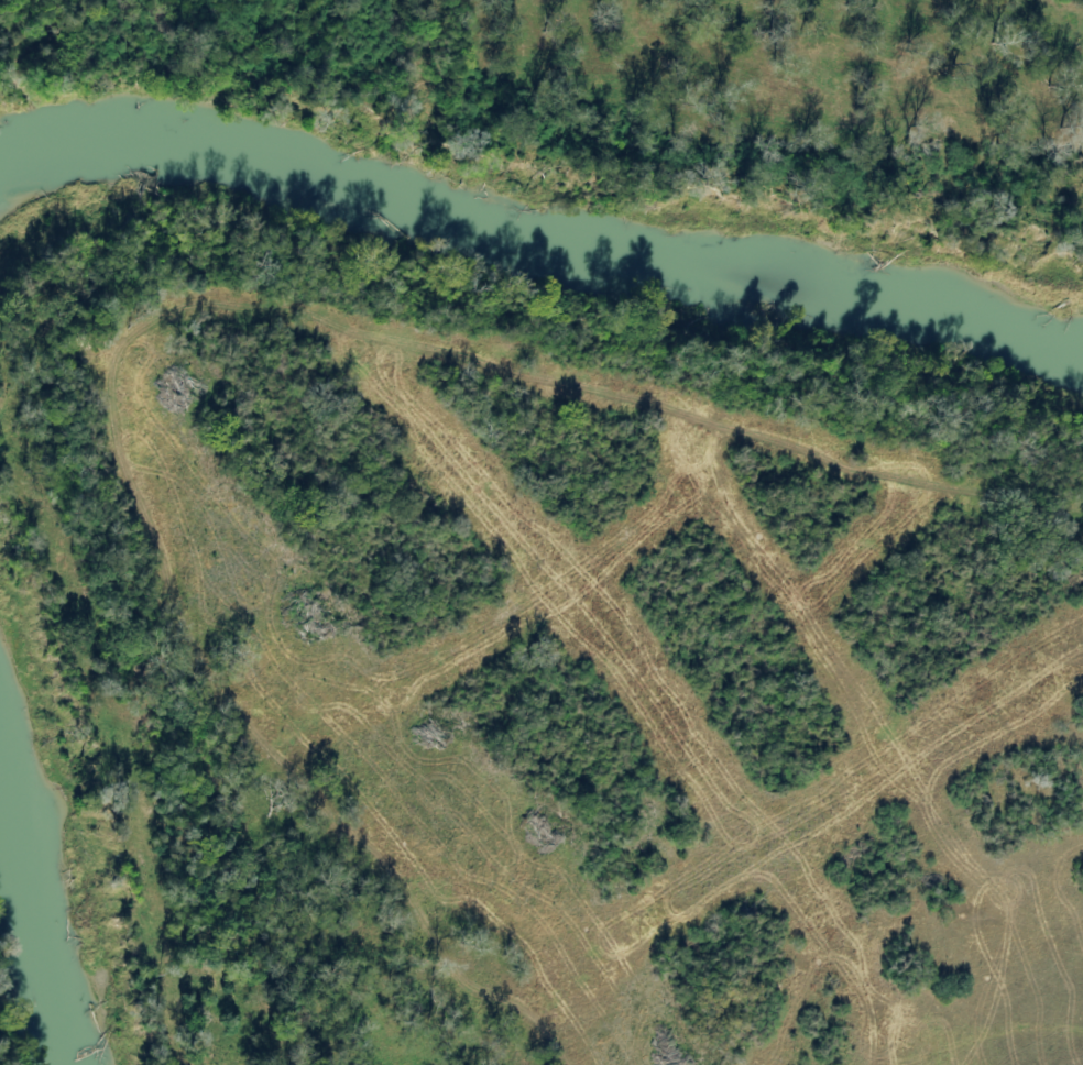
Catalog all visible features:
river: (538, 229)
river: (50, 890)

